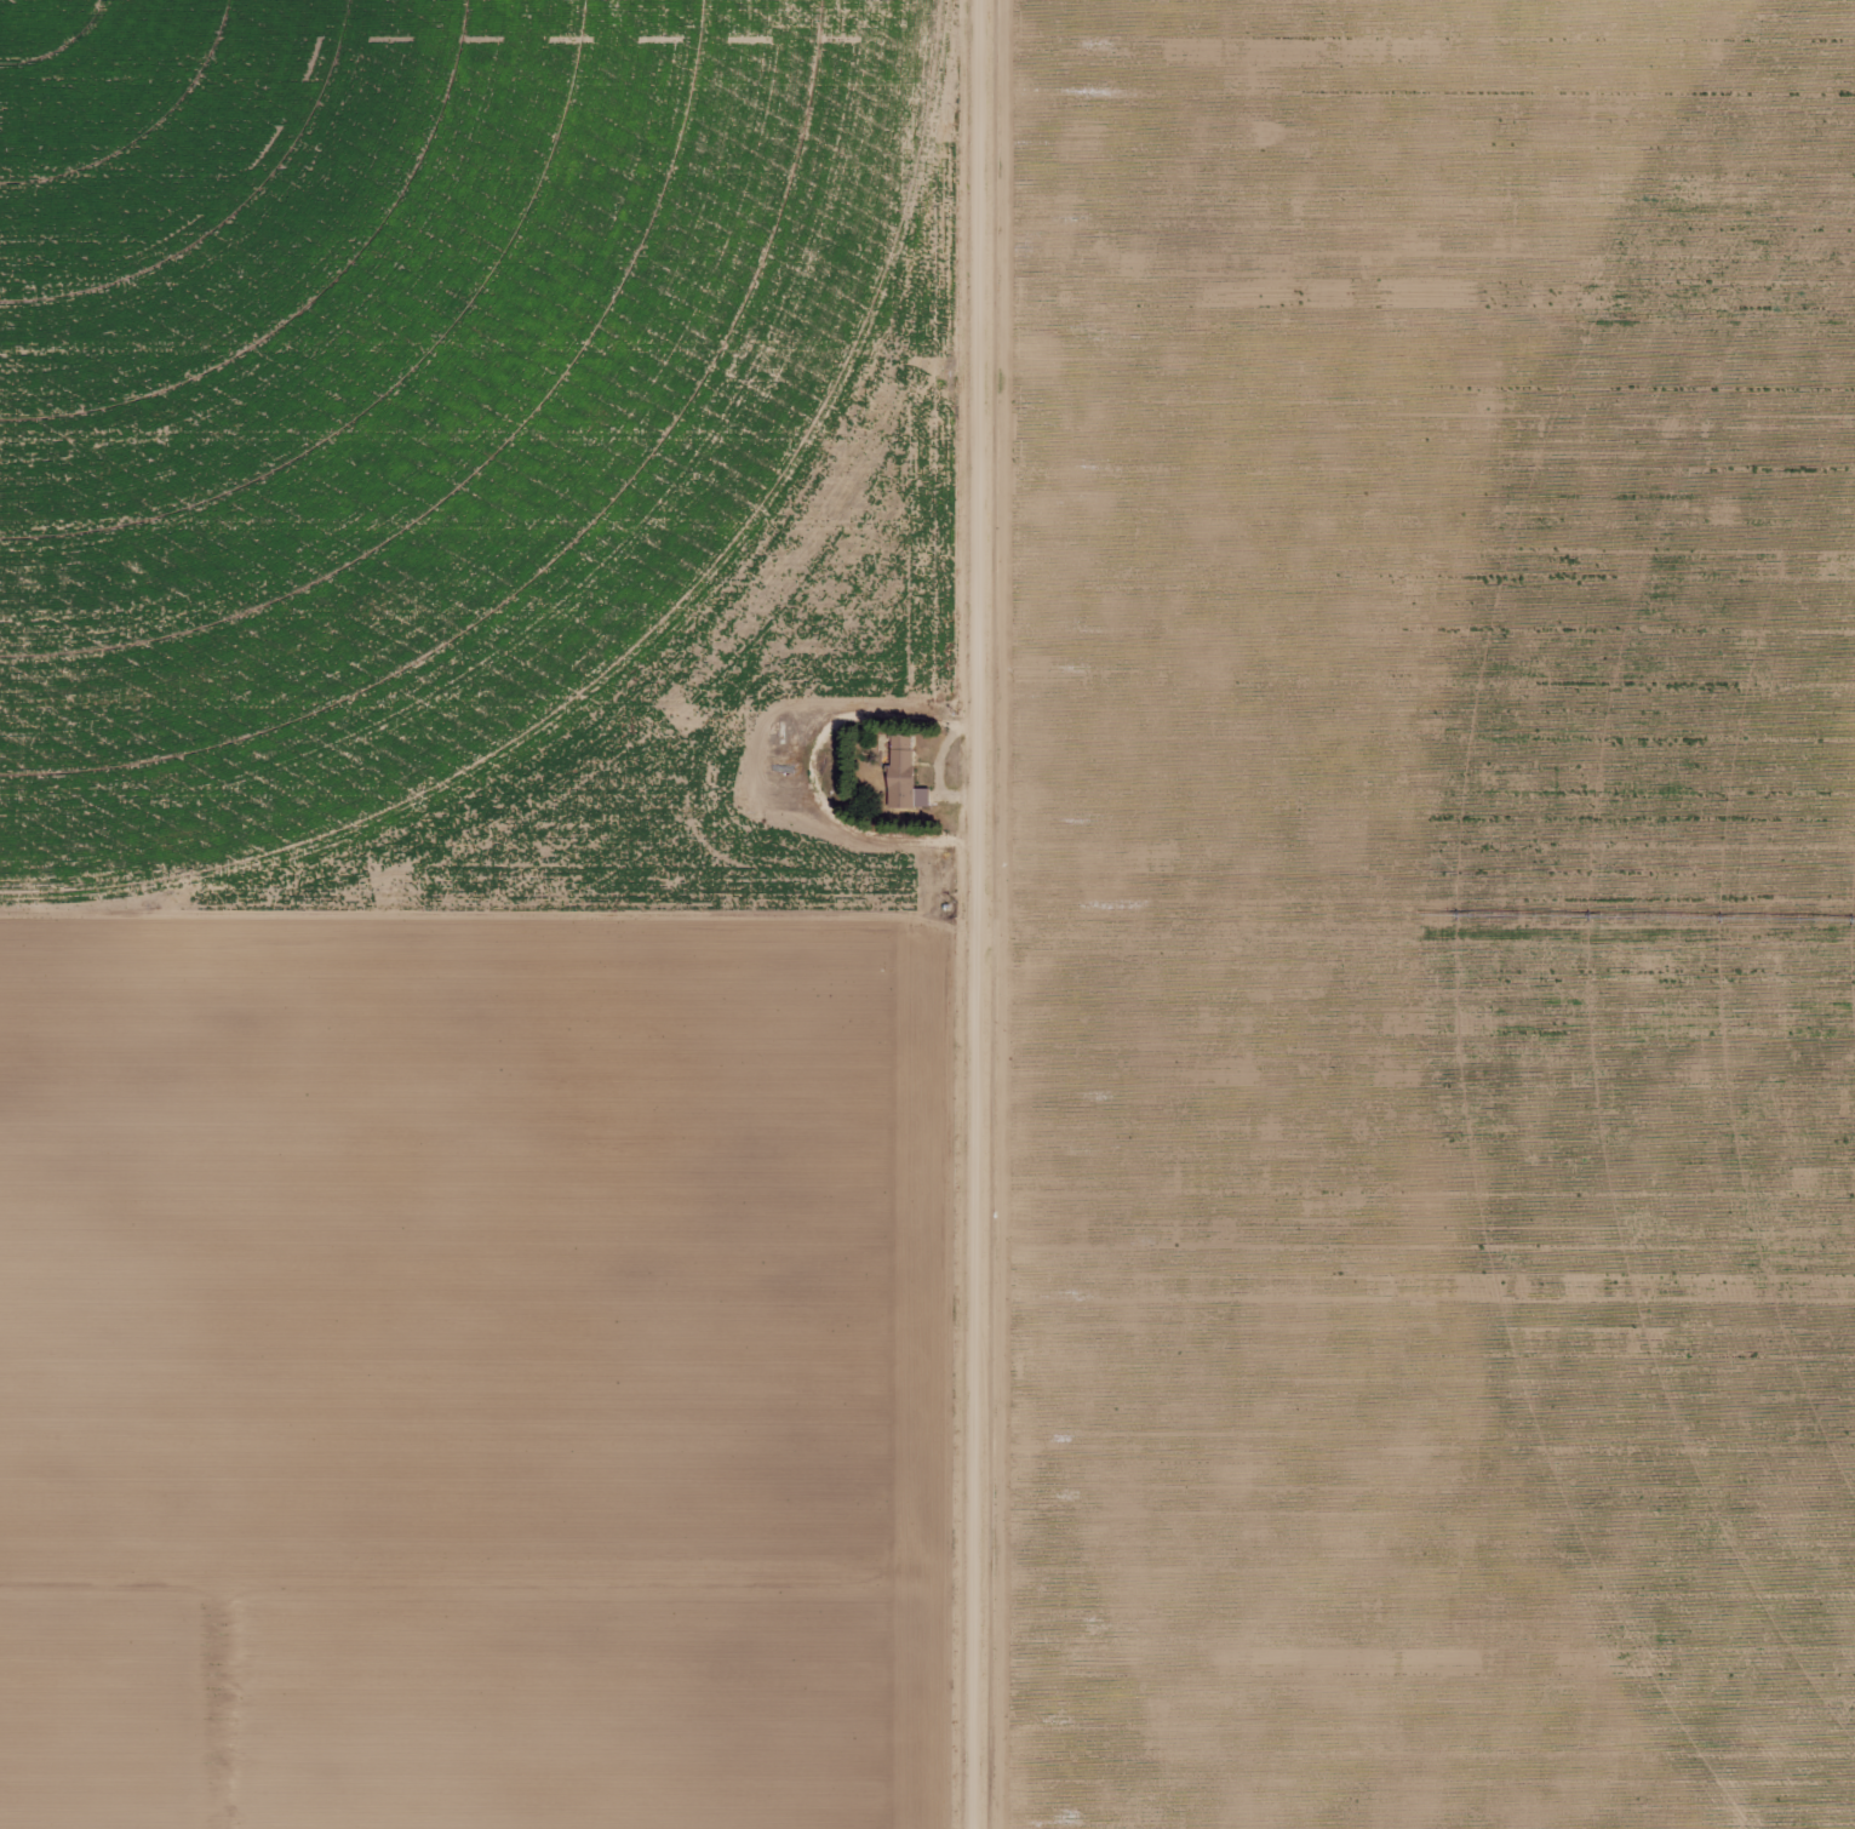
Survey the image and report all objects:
road: (992, 914)
road: (1424, 944)

